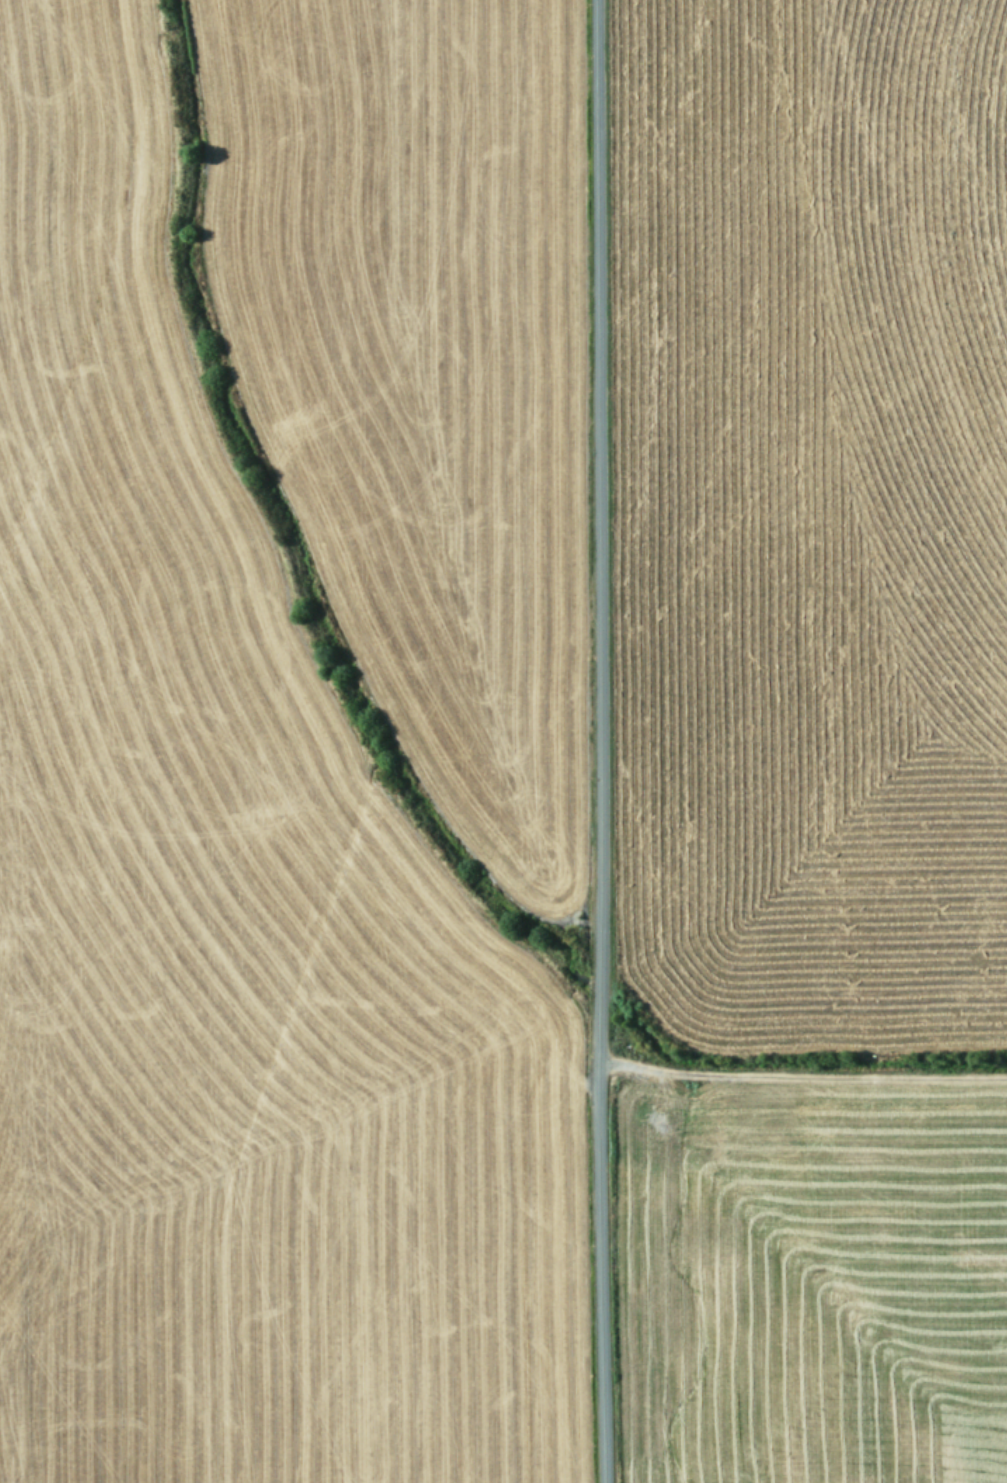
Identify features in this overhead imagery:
crop: (503, 741)
road: (593, 741)

